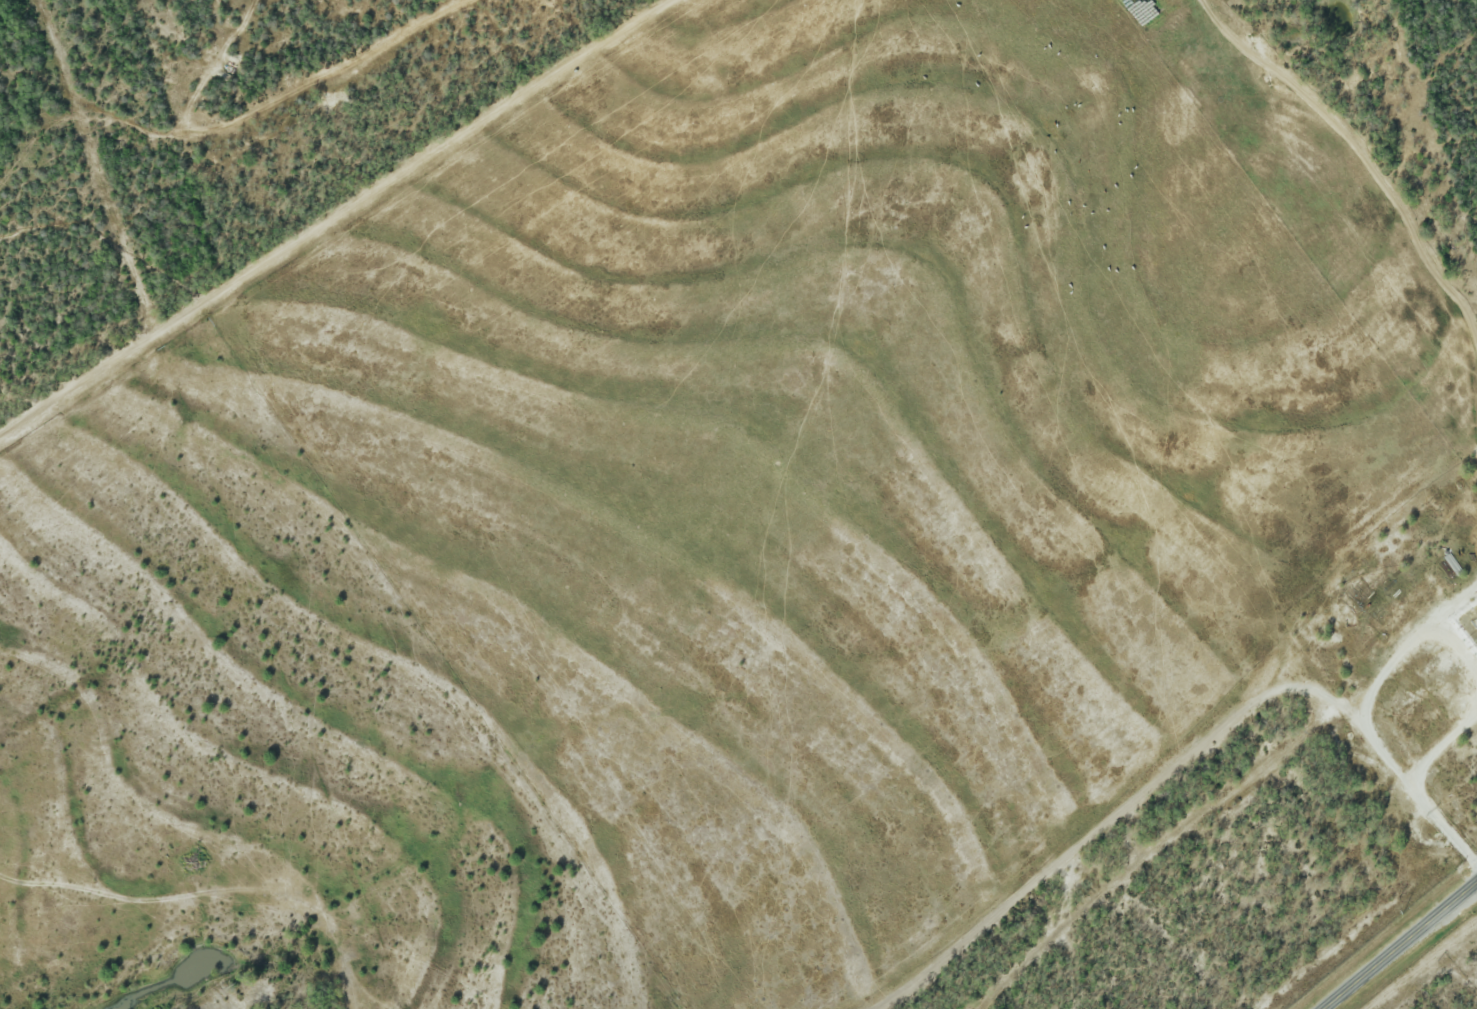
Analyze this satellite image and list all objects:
road: (1458, 644)
road: (1382, 672)
road: (1411, 787)
road: (1401, 944)

